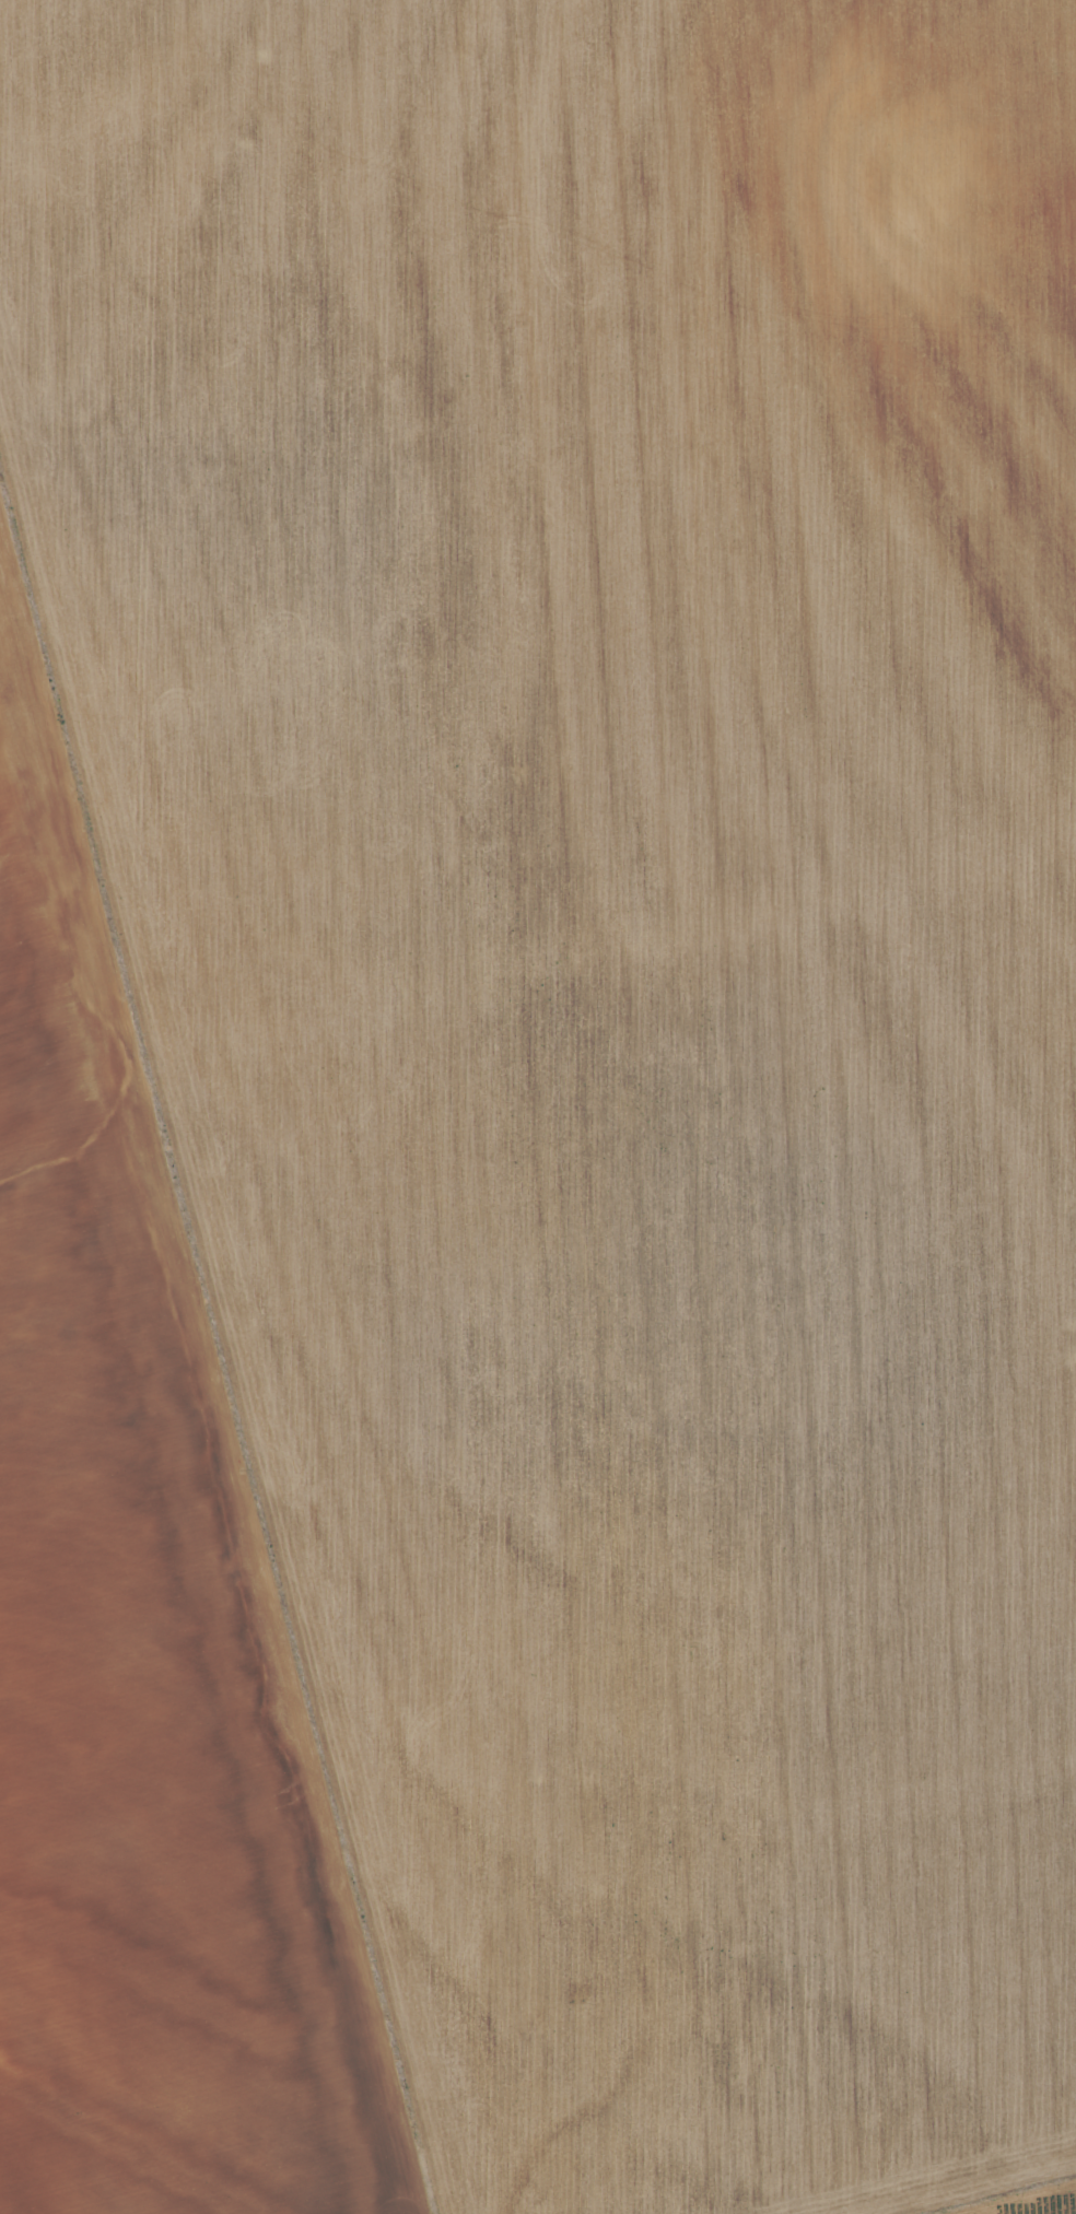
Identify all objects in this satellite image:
road: (236, 1324)

